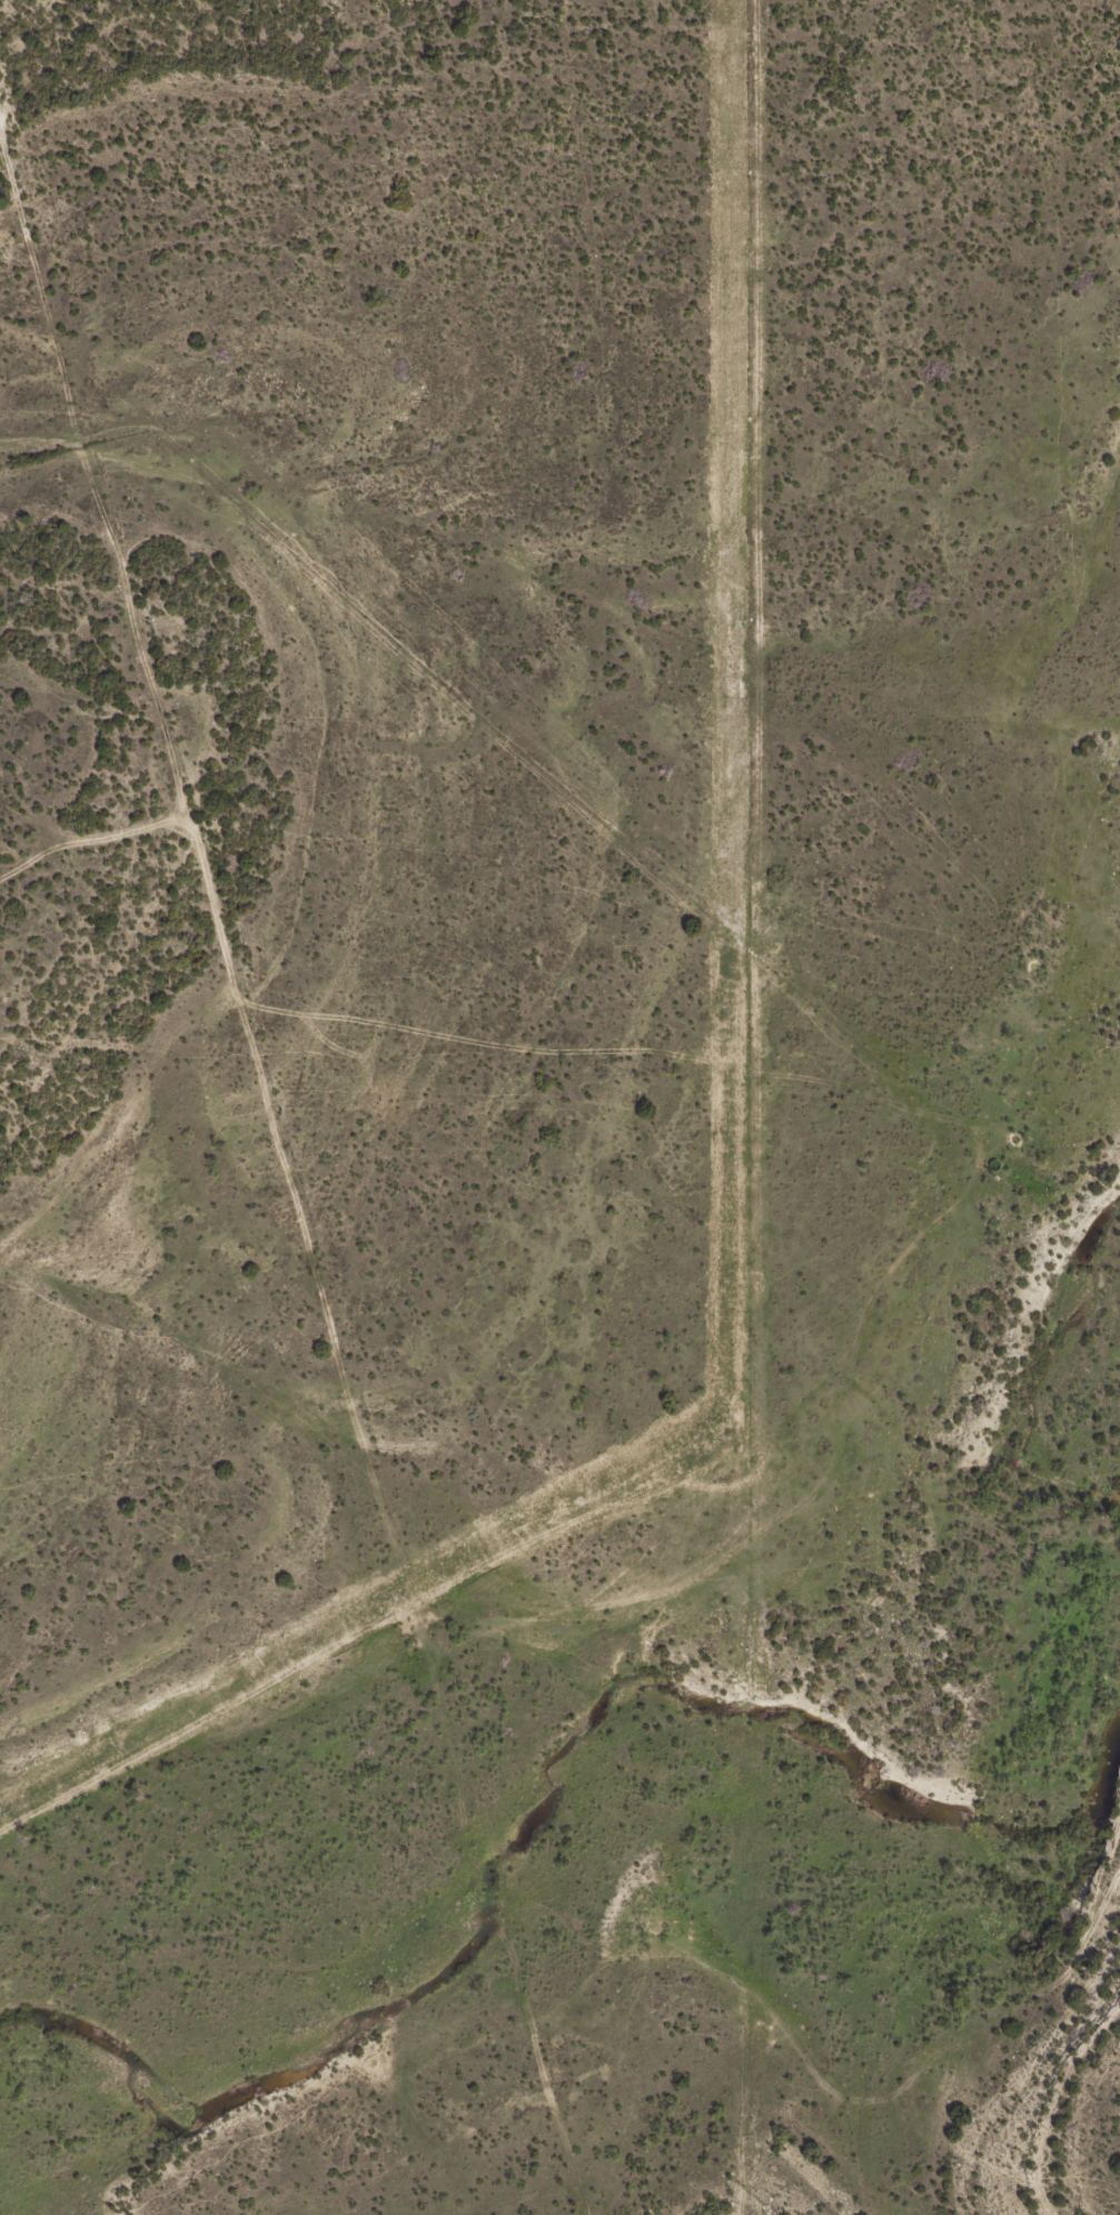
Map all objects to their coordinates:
road: (596, 1999)

